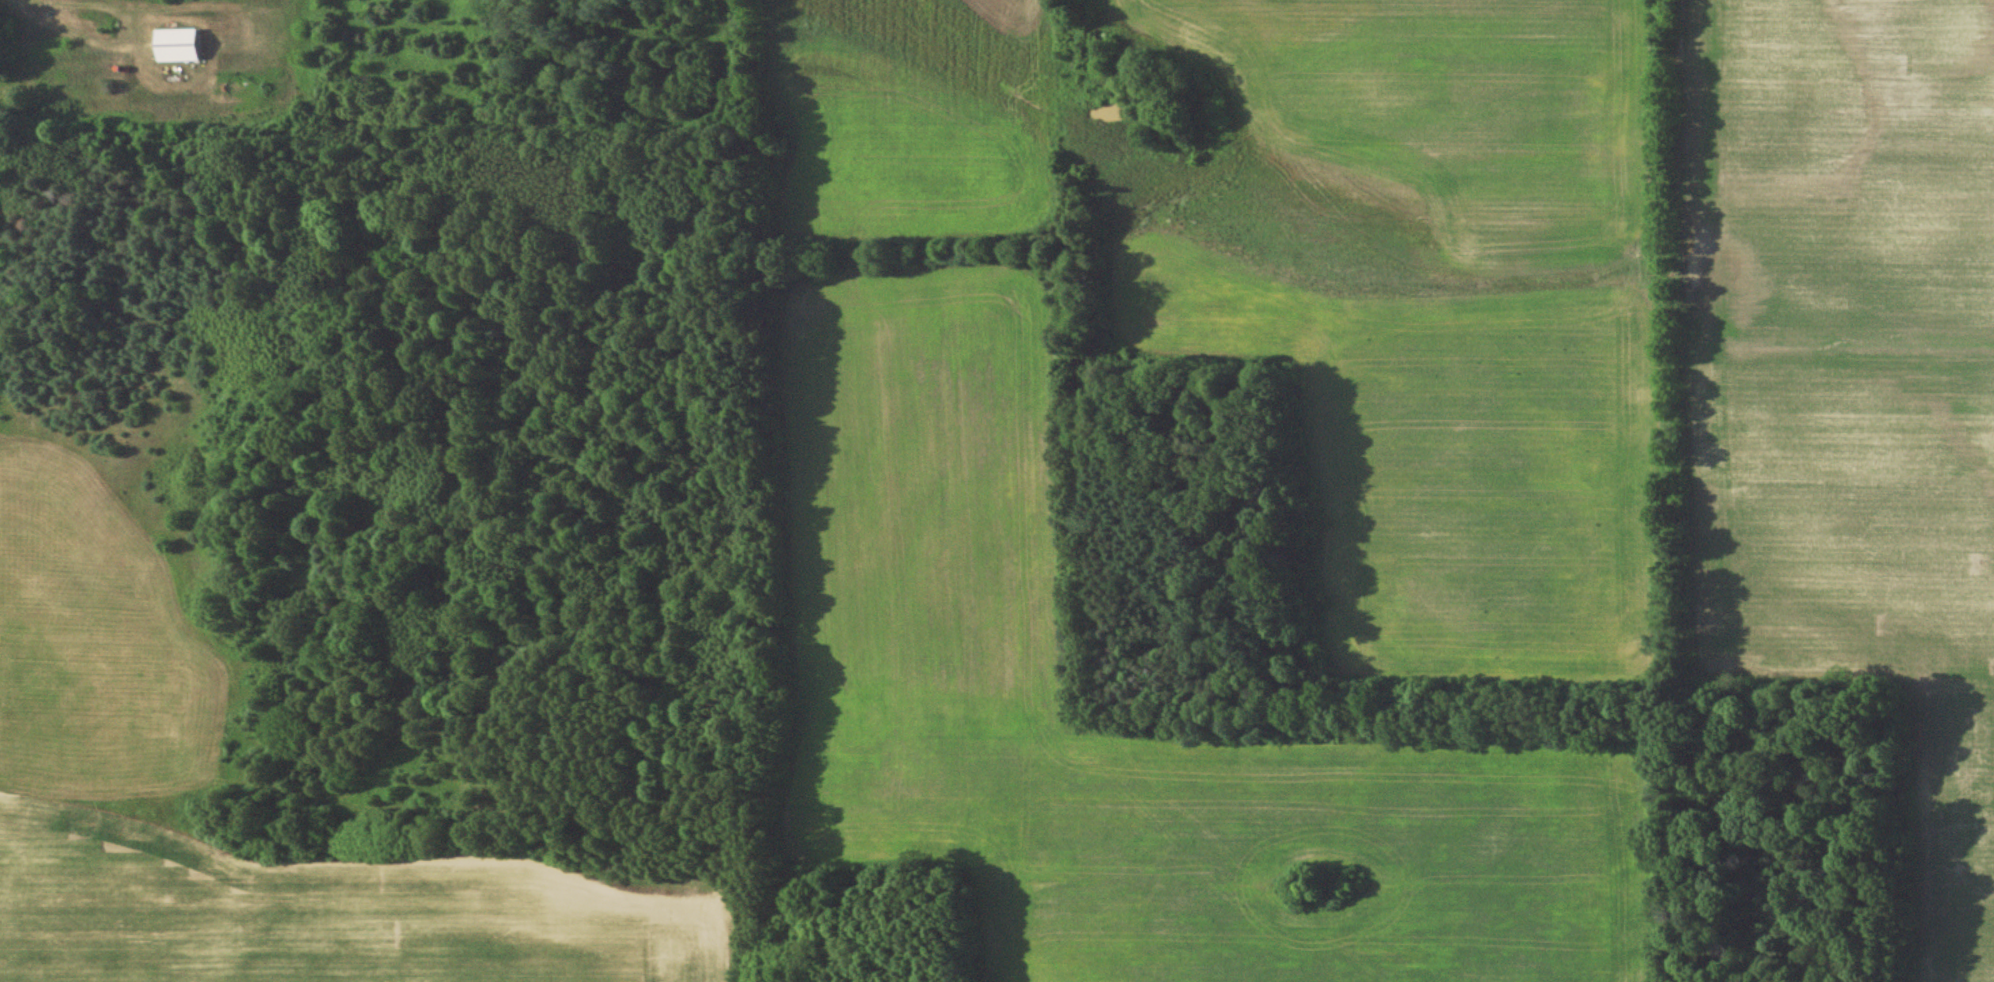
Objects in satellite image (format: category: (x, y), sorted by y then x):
building: (183, 44)

